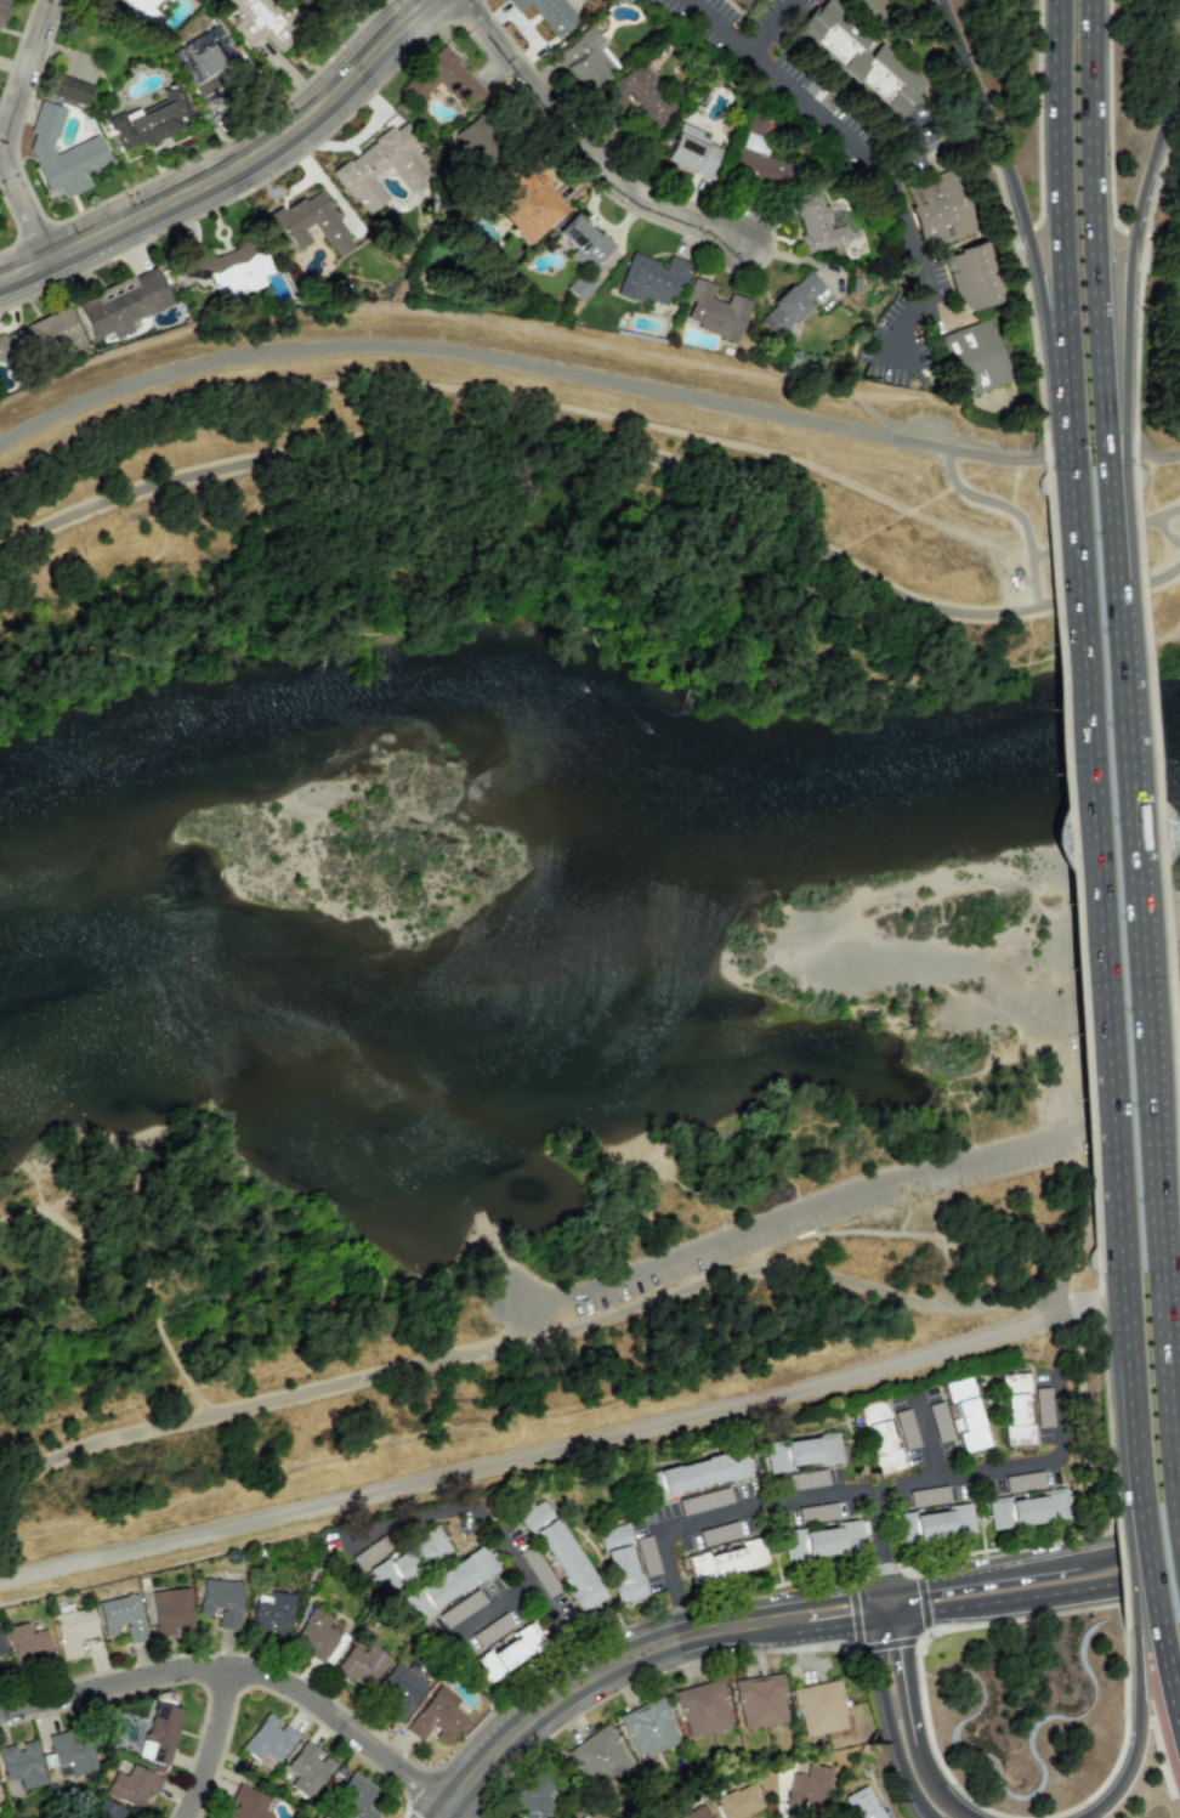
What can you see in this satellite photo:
building: (302, 1)
building: (744, 2)
building: (869, 7)
building: (2, 9)
building: (147, 9)
building: (548, 13)
building: (262, 23)
road: (773, 28)
building: (861, 57)
building: (206, 60)
building: (585, 60)
building: (443, 80)
building: (69, 90)
building: (637, 97)
building: (151, 119)
road: (12, 130)
building: (478, 141)
road: (589, 142)
road: (917, 146)
building: (691, 152)
building: (61, 154)
building: (756, 154)
road: (878, 163)
building: (380, 168)
road: (234, 169)
road: (1008, 186)
road: (1178, 192)
building: (528, 202)
building: (940, 209)
road: (1093, 219)
building: (311, 222)
building: (816, 222)
road: (1122, 228)
road: (1060, 230)
road: (1174, 232)
road: (1022, 233)
building: (583, 242)
road: (1124, 261)
building: (228, 268)
building: (975, 277)
building: (649, 279)
building: (578, 287)
building: (793, 301)
building: (123, 304)
building: (714, 311)
building: (41, 336)
road: (471, 356)
road: (917, 356)
building: (974, 359)
road: (606, 443)
road: (1105, 448)
road: (1156, 455)
road: (992, 458)
road: (1014, 516)
road: (1168, 533)
road: (1107, 536)
road: (1156, 810)
river: (586, 855)
road: (1100, 910)
road: (1135, 996)
road: (1087, 1064)
road: (847, 1195)
road: (1060, 1303)
road: (552, 1337)
building: (1016, 1409)
building: (966, 1414)
building: (880, 1437)
road: (1084, 1437)
road: (538, 1449)
building: (802, 1452)
building: (698, 1473)
road: (857, 1489)
road: (1129, 1489)
road: (1144, 1490)
building: (1028, 1510)
building: (935, 1523)
road: (874, 1534)
building: (822, 1540)
road: (499, 1542)
building: (562, 1556)
building: (410, 1559)
building: (727, 1561)
building: (620, 1563)
road: (1135, 1565)
building: (449, 1582)
road: (676, 1587)
road: (991, 1588)
road: (884, 1592)
road: (874, 1595)
building: (221, 1602)
road: (880, 1607)
building: (171, 1610)
building: (271, 1614)
building: (121, 1615)
road: (821, 1618)
building: (73, 1630)
building: (318, 1637)
road: (875, 1639)
building: (27, 1644)
building: (1, 1647)
building: (507, 1653)
road: (1138, 1653)
building: (361, 1665)
road: (1169, 1665)
road: (242, 1673)
road: (1134, 1681)
road: (902, 1683)
road: (585, 1687)
road: (884, 1689)
building: (398, 1690)
building: (760, 1701)
building: (819, 1707)
building: (703, 1709)
building: (436, 1717)
building: (648, 1728)
building: (159, 1734)
building: (267, 1739)
road: (215, 1746)
building: (70, 1752)
building: (598, 1757)
road: (1134, 1761)
building: (21, 1765)
building: (307, 1769)
building: (132, 1786)
building: (807, 1788)
road: (938, 1792)
building: (534, 1796)
building: (353, 1799)
building: (738, 1802)
building: (245, 1803)
building: (860, 1805)
building: (107, 1809)
building: (697, 1813)
road: (449, 1814)
building: (322, 1817)
building: (584, 1817)

